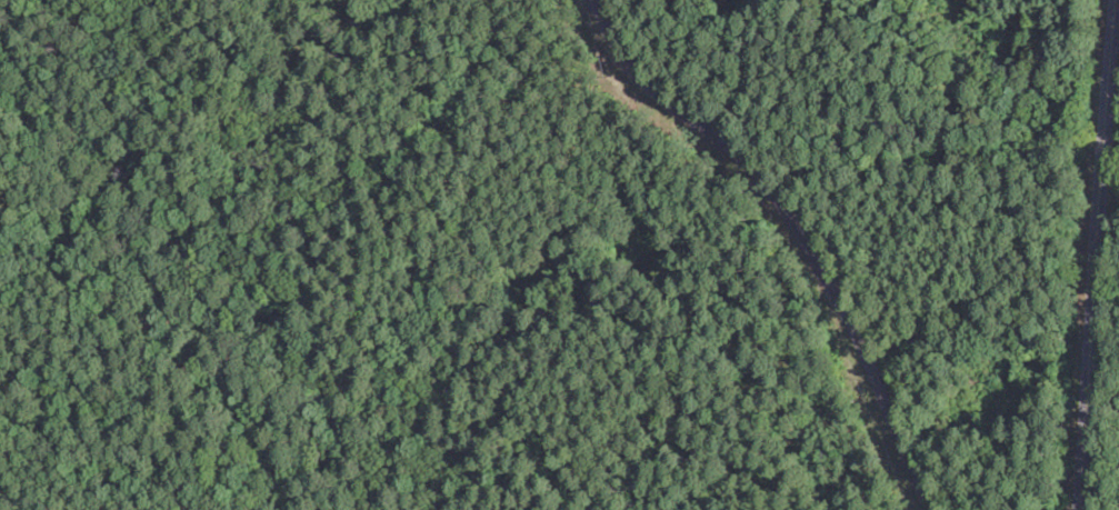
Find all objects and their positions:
road: (742, 237)
road: (1080, 254)

